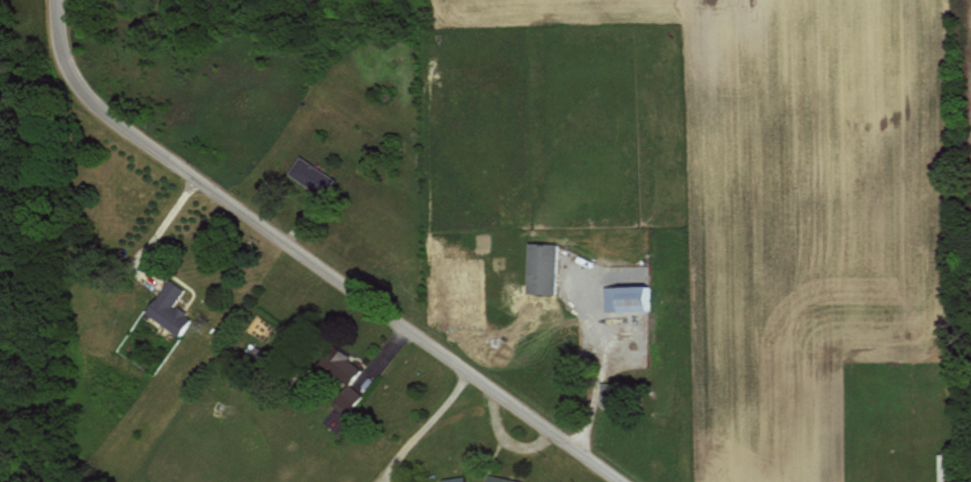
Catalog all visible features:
building: (310, 174)
road: (156, 228)
road: (312, 257)
building: (539, 267)
building: (624, 297)
building: (170, 307)
road: (592, 358)
building: (343, 374)
building: (604, 397)
building: (499, 478)
building: (452, 479)

